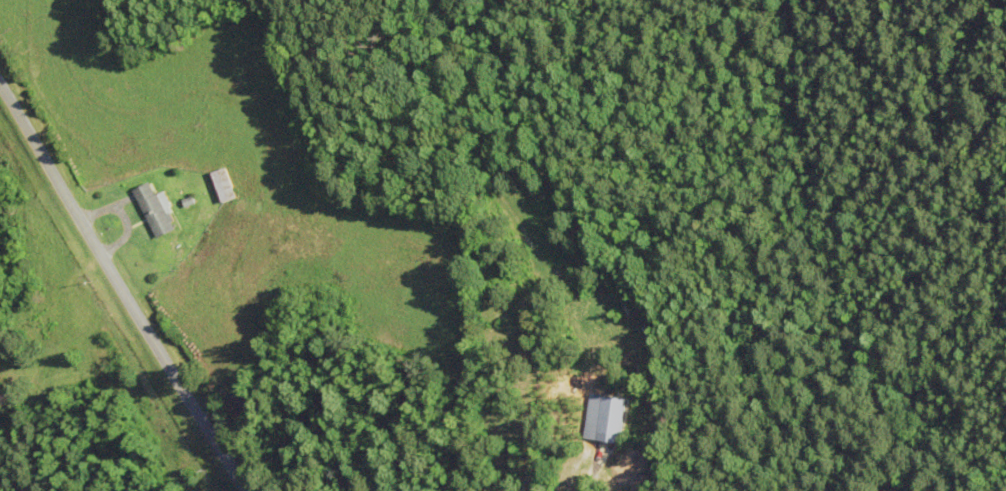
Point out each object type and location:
building: (224, 184)
building: (156, 209)
road: (127, 299)
building: (241, 401)
building: (604, 417)

